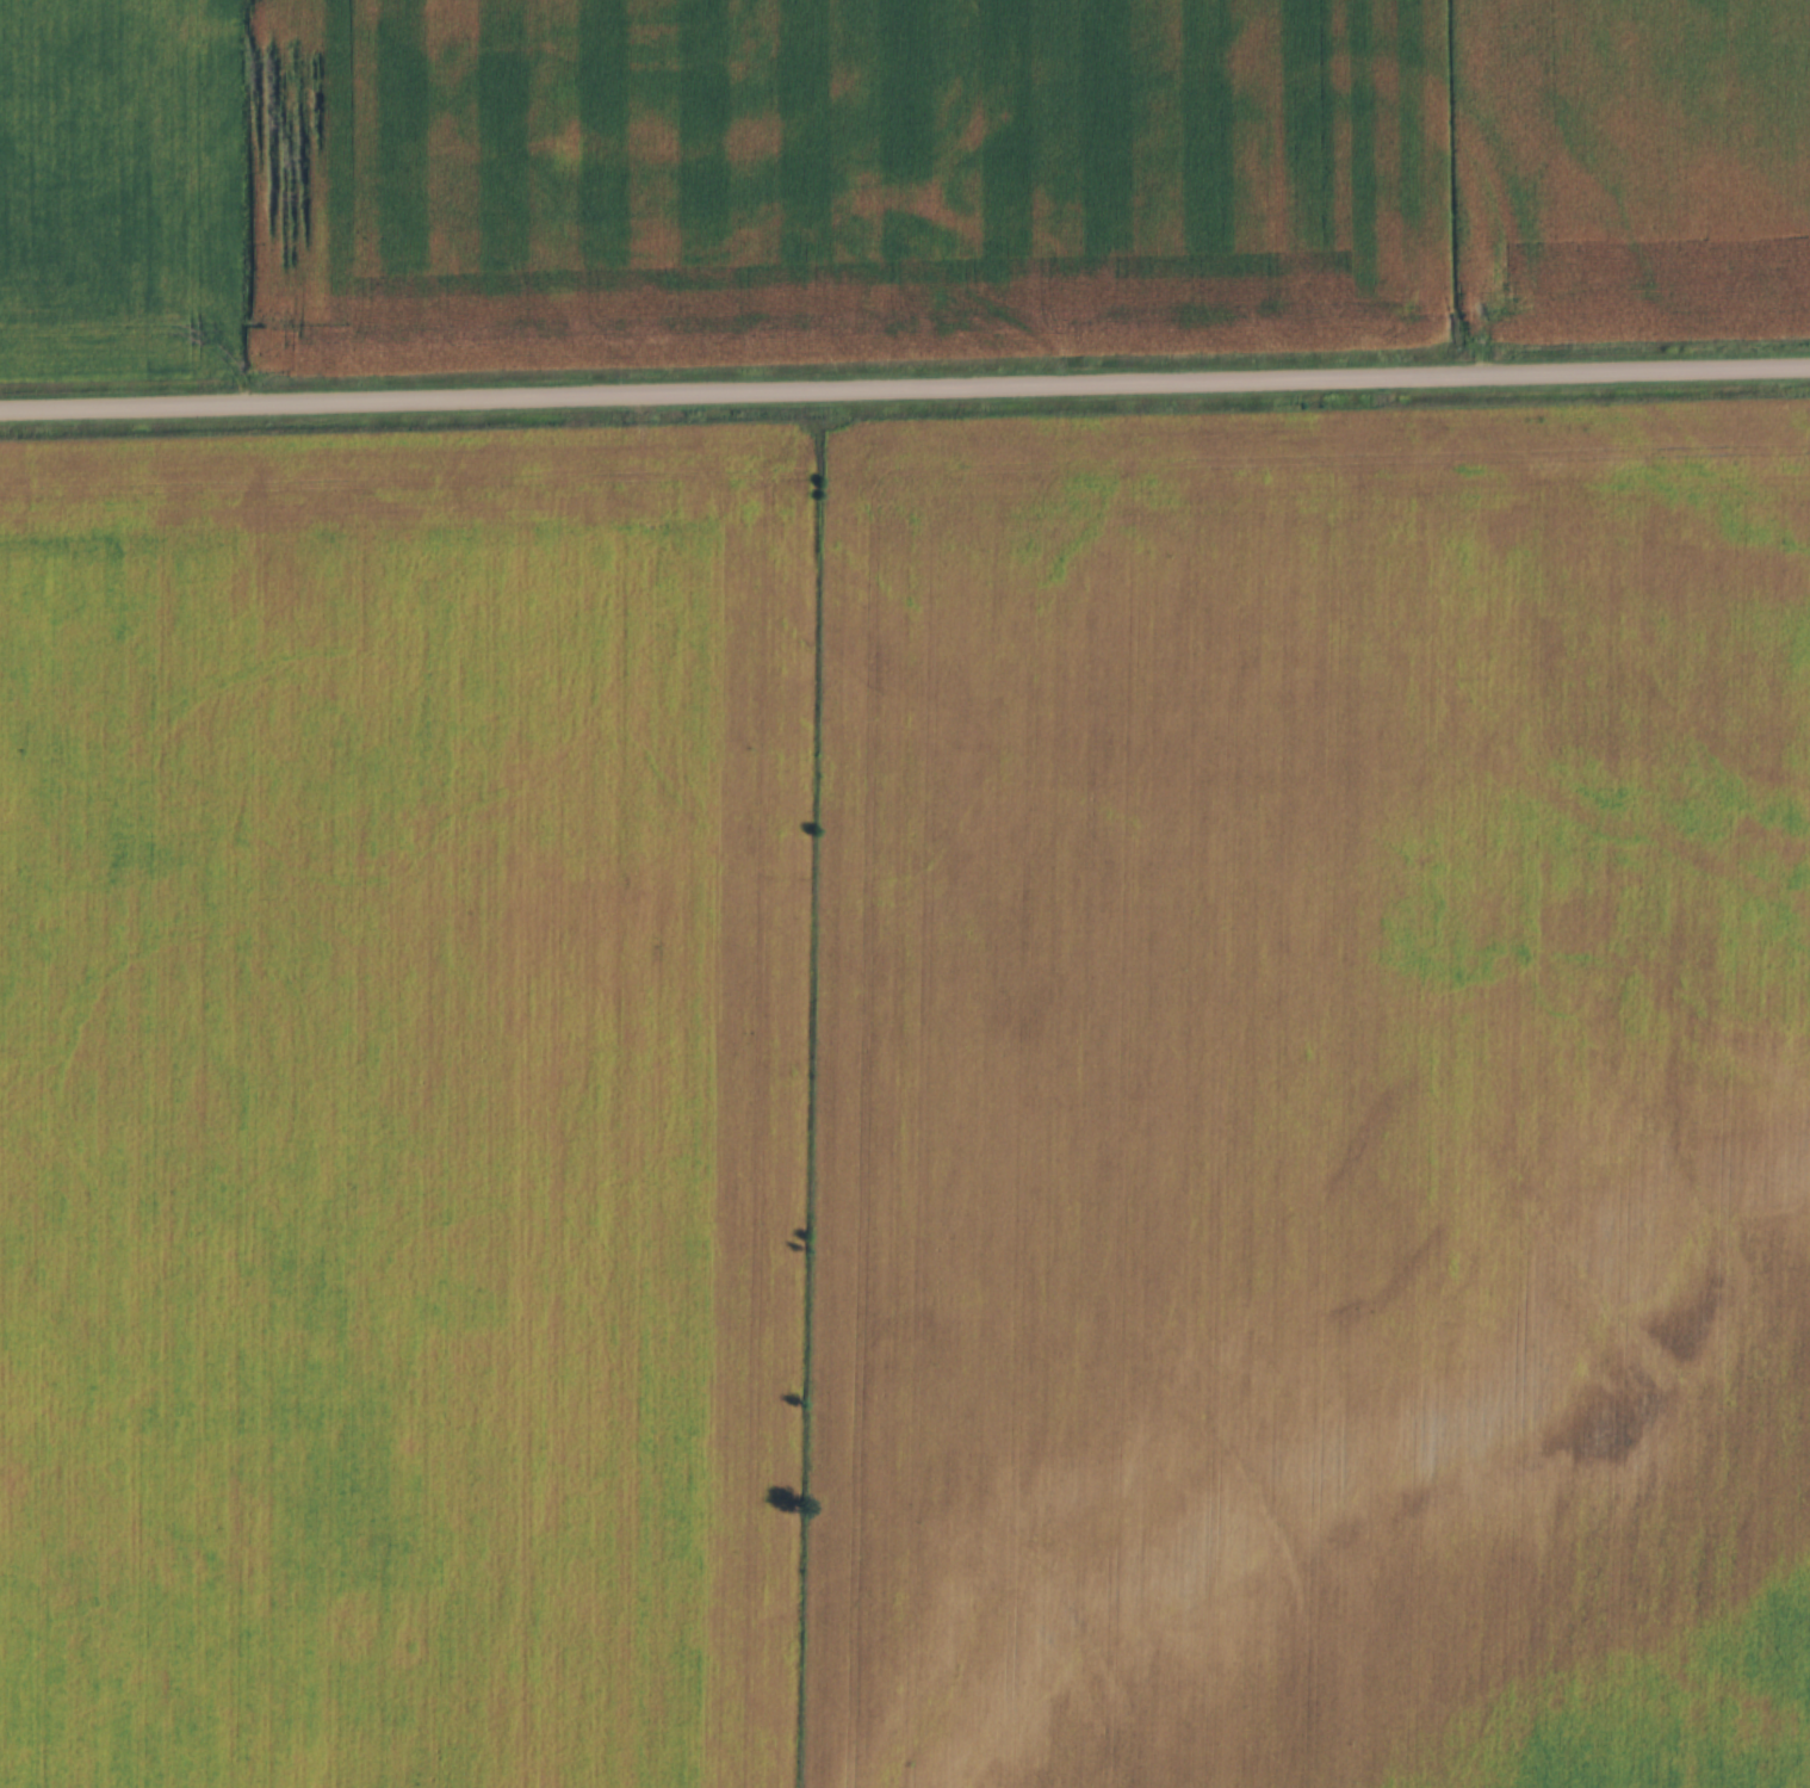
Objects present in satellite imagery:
road: (905, 392)
crop: (1310, 1101)
crop: (405, 1105)

